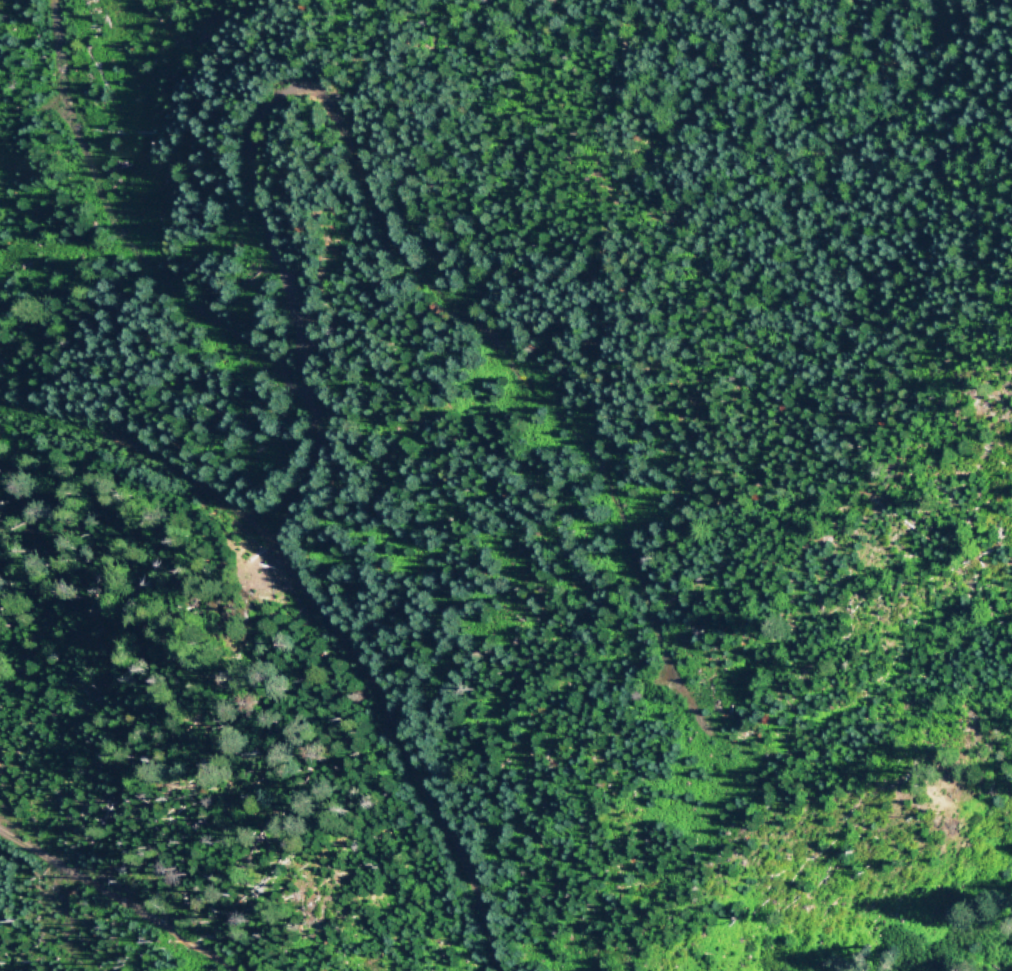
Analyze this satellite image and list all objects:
road: (362, 191)
road: (125, 238)
road: (333, 613)
road: (112, 904)

